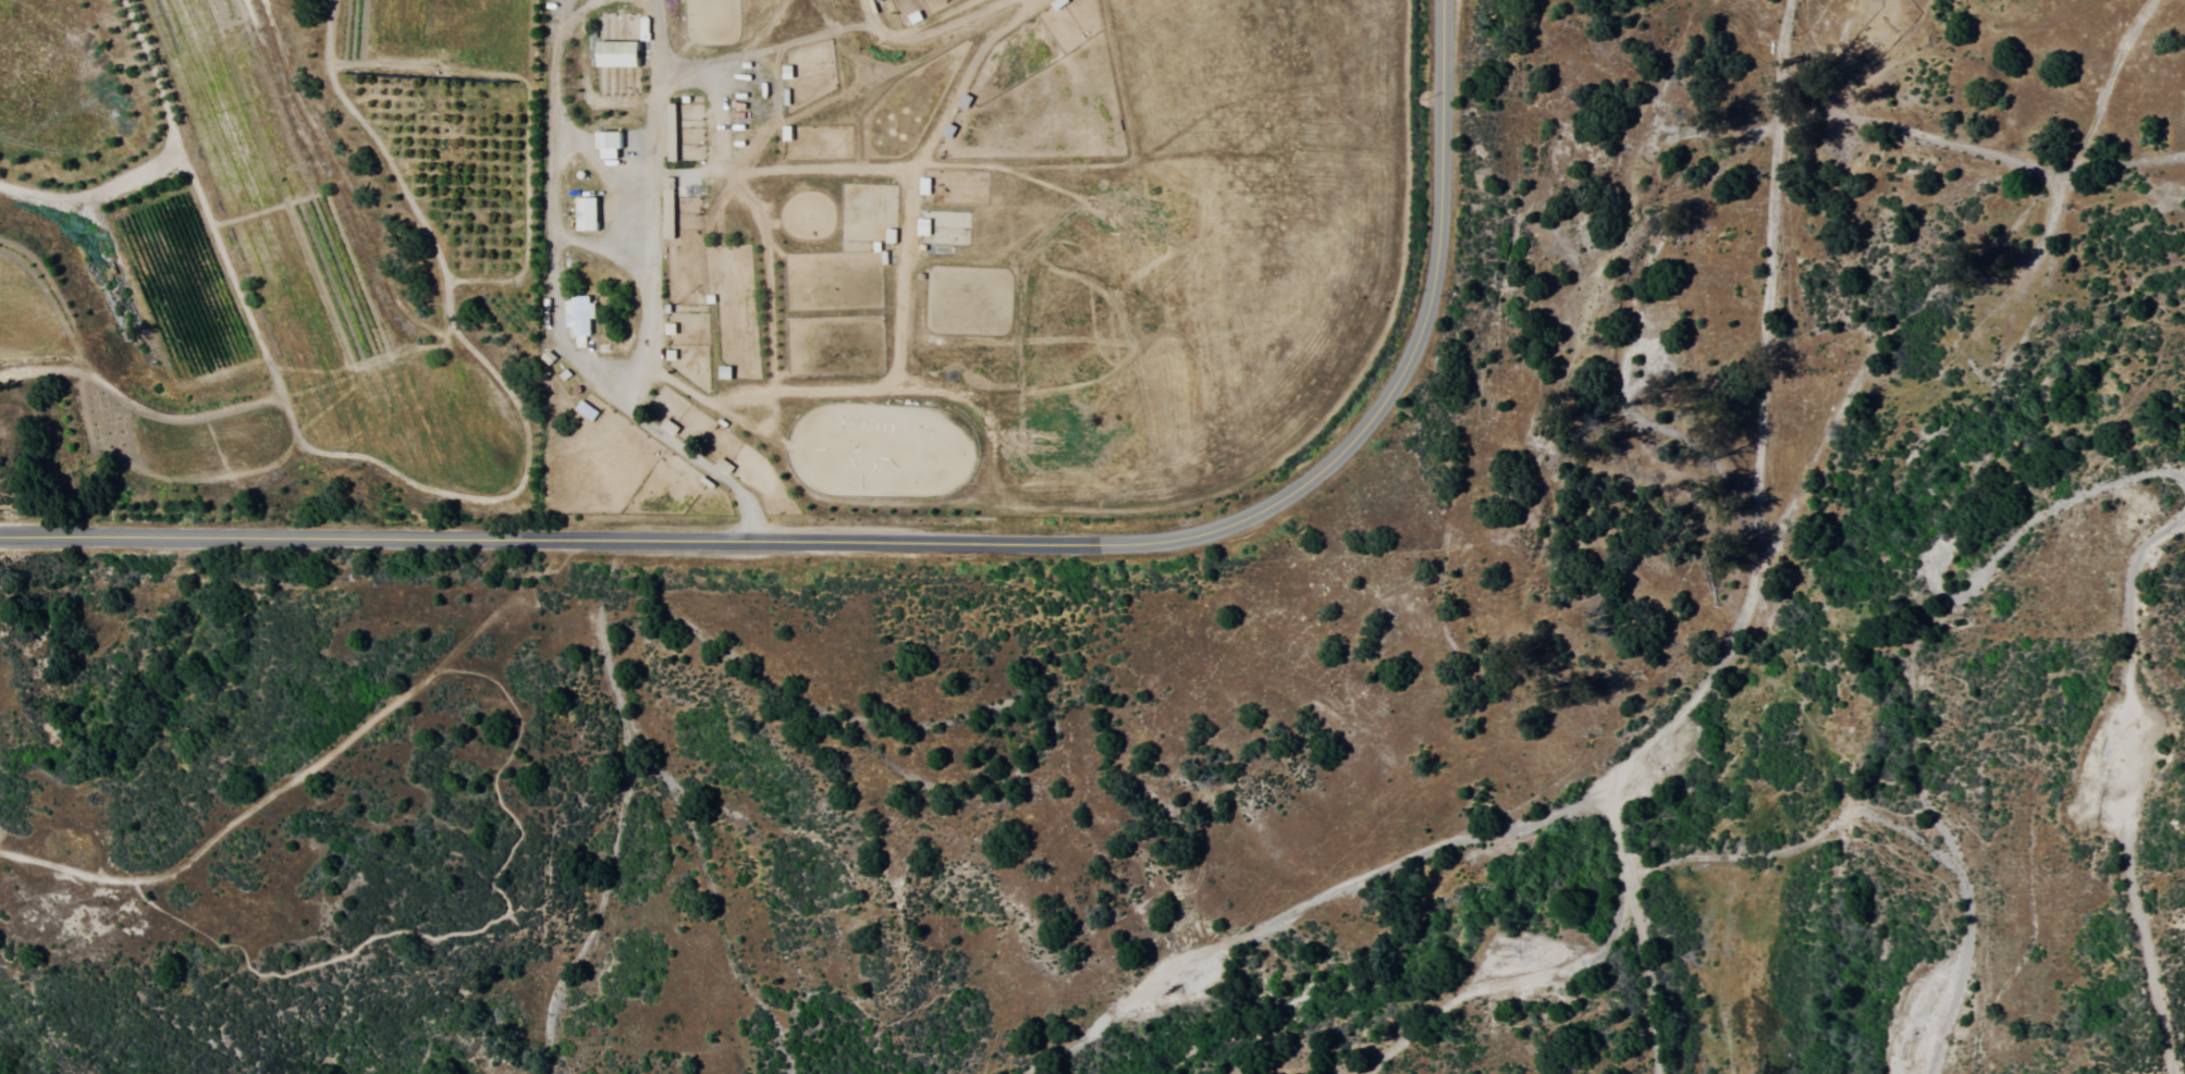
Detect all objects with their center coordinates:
road: (929, 34)
building: (619, 48)
building: (679, 132)
building: (605, 143)
road: (1727, 159)
building: (922, 185)
building: (674, 207)
building: (584, 213)
building: (921, 226)
building: (888, 235)
road: (1916, 282)
road: (1983, 286)
building: (577, 318)
road: (1950, 523)
road: (922, 538)
road: (1759, 563)
park: (318, 665)
road: (2131, 786)
road: (505, 793)
road: (64, 876)

